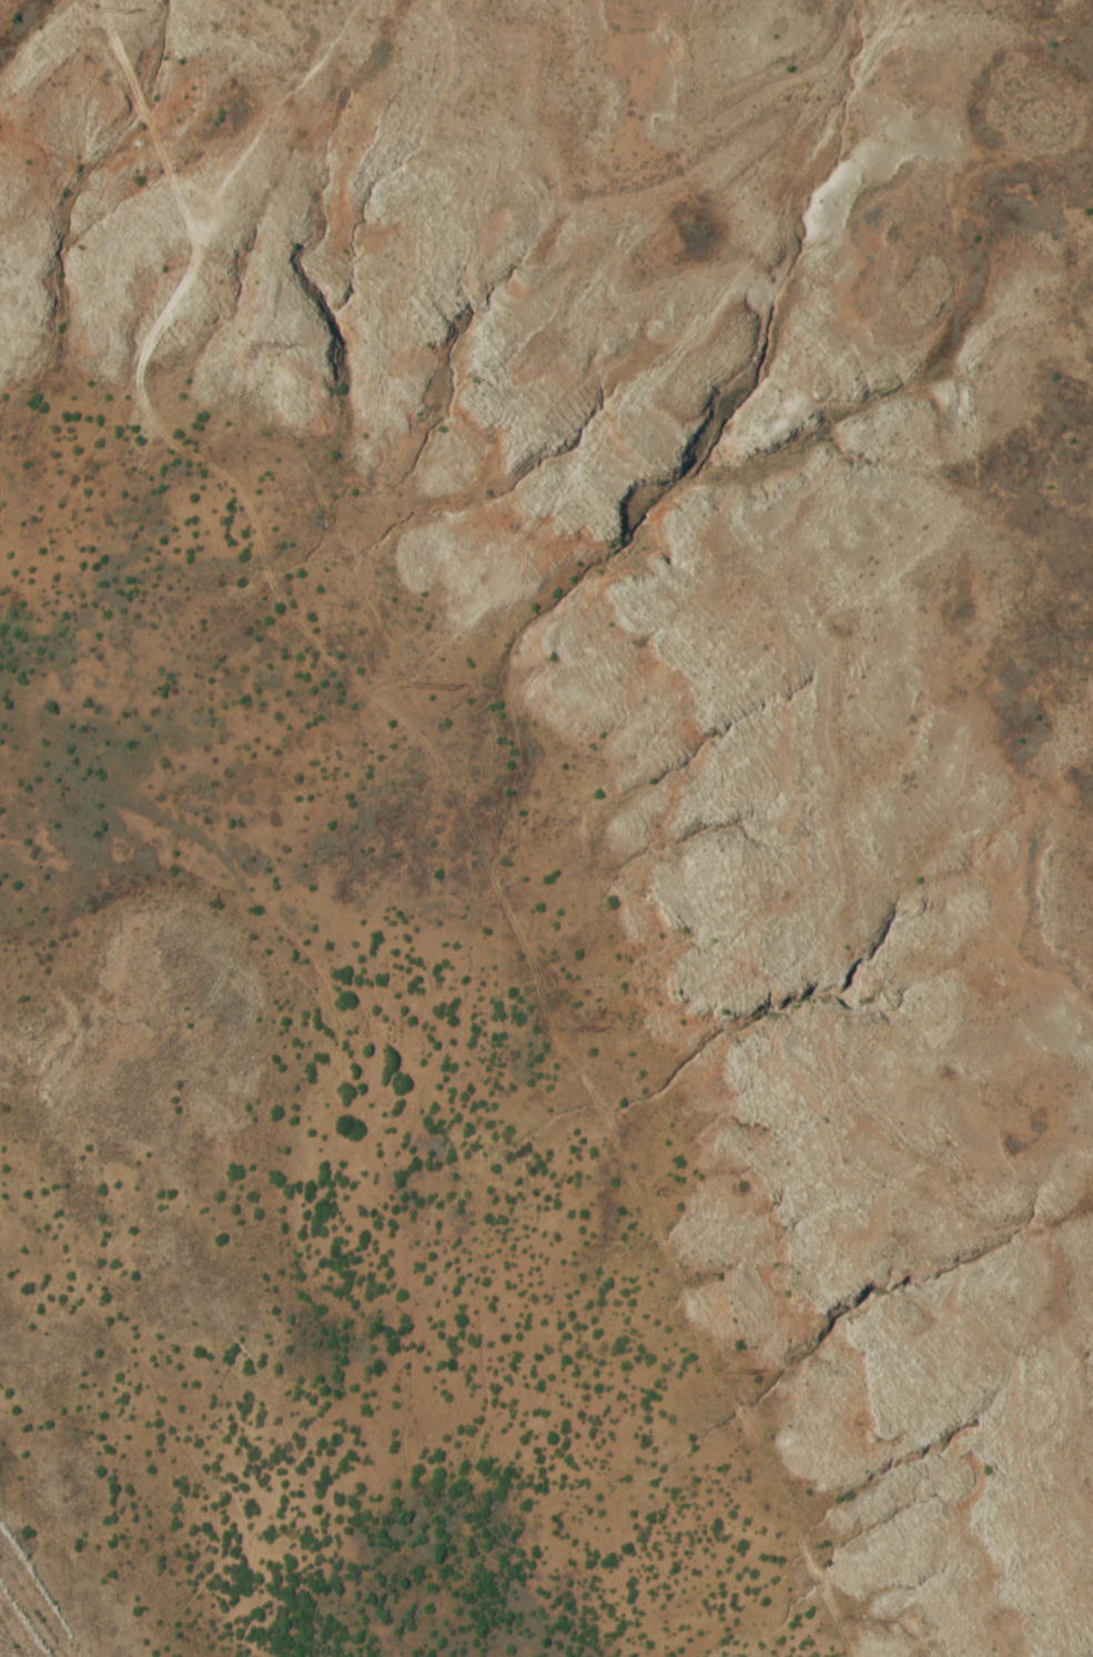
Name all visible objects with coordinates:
power tower: (94, 6)
power tower: (250, 340)
power tower: (401, 681)
power tower: (560, 1024)
power tower: (720, 1365)

